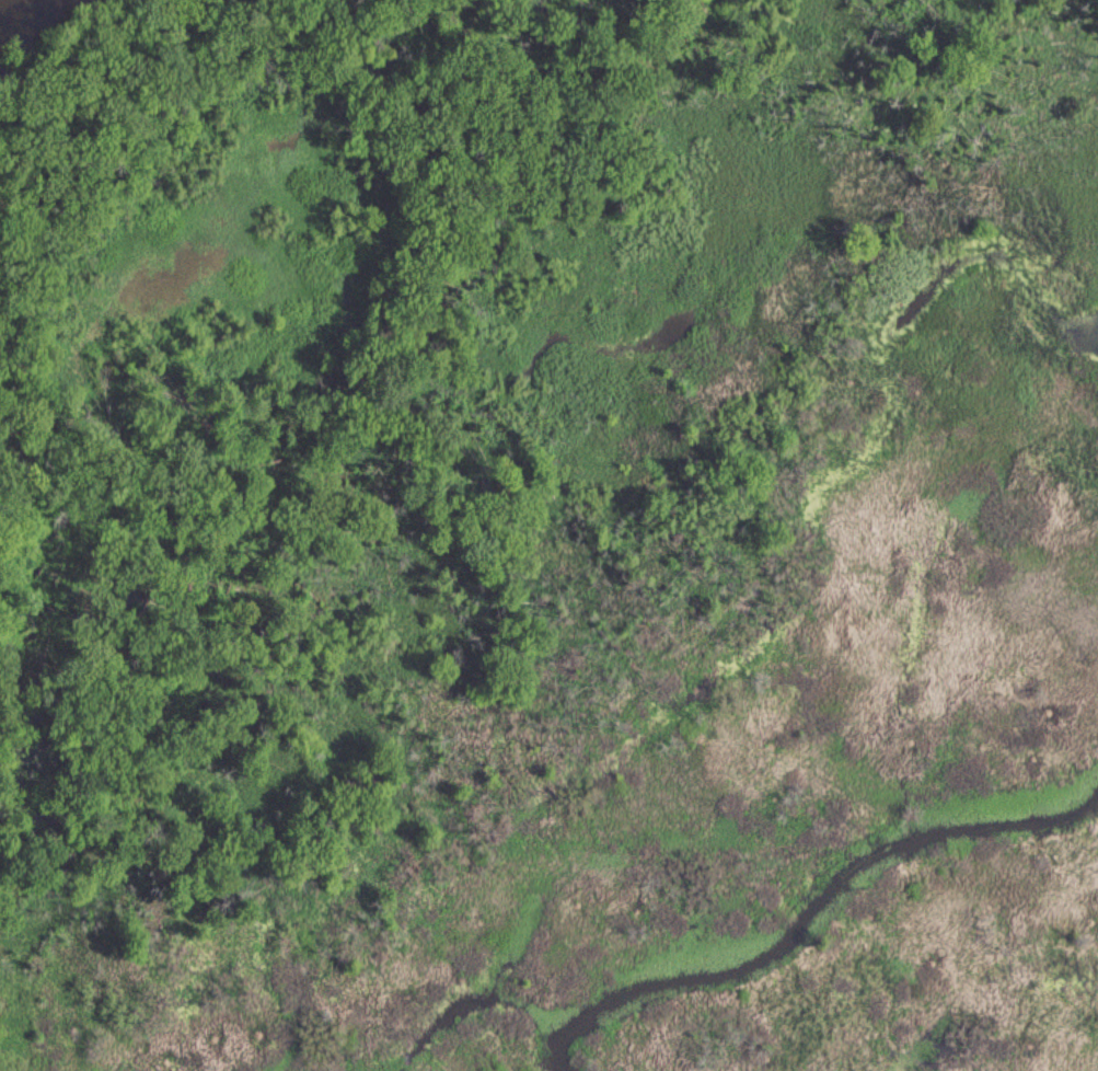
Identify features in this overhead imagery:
river: (8, 5)

